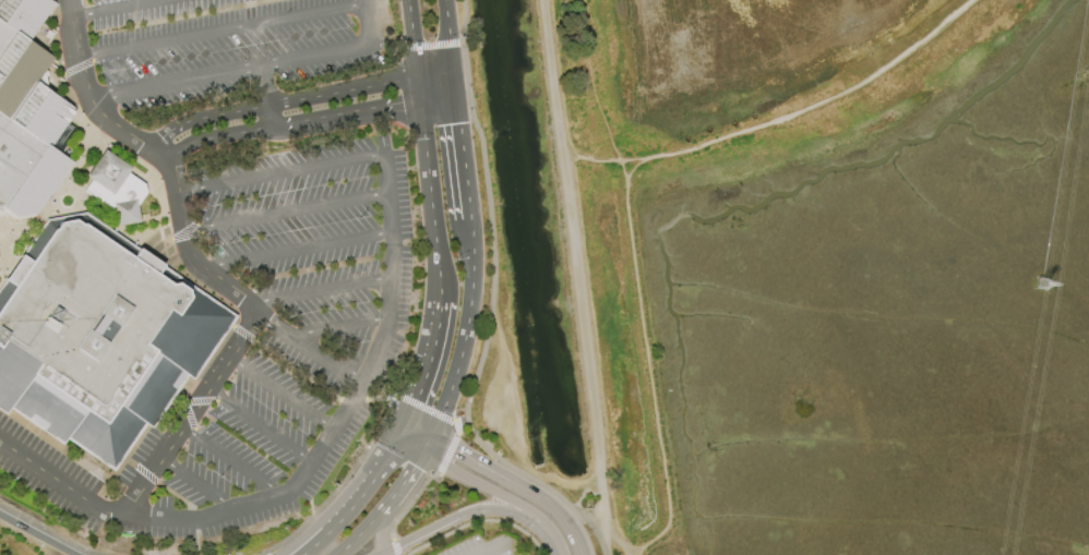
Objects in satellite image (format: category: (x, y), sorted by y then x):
road: (108, 7)
road: (224, 26)
road: (448, 35)
traffic signals: (412, 39)
parking lot: (227, 44)
road: (446, 44)
road: (386, 45)
road: (336, 47)
road: (414, 47)
road: (175, 76)
road: (454, 81)
road: (264, 83)
road: (87, 86)
road: (360, 87)
road: (436, 95)
traffic signals: (402, 101)
road: (345, 111)
building: (27, 113)
road: (270, 116)
road: (203, 117)
road: (783, 121)
traffic signals: (459, 123)
road: (422, 128)
road: (216, 136)
road: (277, 170)
road: (465, 170)
building: (116, 188)
road: (284, 208)
road: (571, 236)
road: (297, 245)
power tower: (1040, 283)
road: (320, 288)
road: (490, 310)
road: (338, 323)
parking lot: (289, 330)
building: (97, 336)
road: (462, 346)
road: (310, 347)
road: (432, 347)
road: (650, 369)
road: (207, 388)
road: (283, 391)
road: (373, 396)
traffic signals: (417, 399)
road: (426, 408)
road: (345, 412)
road: (463, 422)
road: (457, 429)
road: (256, 430)
road: (416, 432)
road: (409, 445)
road: (424, 446)
traffic signals: (454, 450)
road: (447, 454)
road: (234, 459)
traffic signals: (414, 466)
parking lot: (51, 475)
road: (200, 482)
road: (402, 483)
road: (369, 485)
road: (480, 485)
road: (516, 485)
road: (339, 486)
road: (408, 499)
road: (603, 504)
road: (463, 511)
road: (359, 532)
road: (380, 532)
road: (36, 534)
road: (551, 535)
road: (307, 544)
road: (314, 544)
road: (619, 544)
road: (394, 547)
road: (490, 547)
road: (385, 551)

